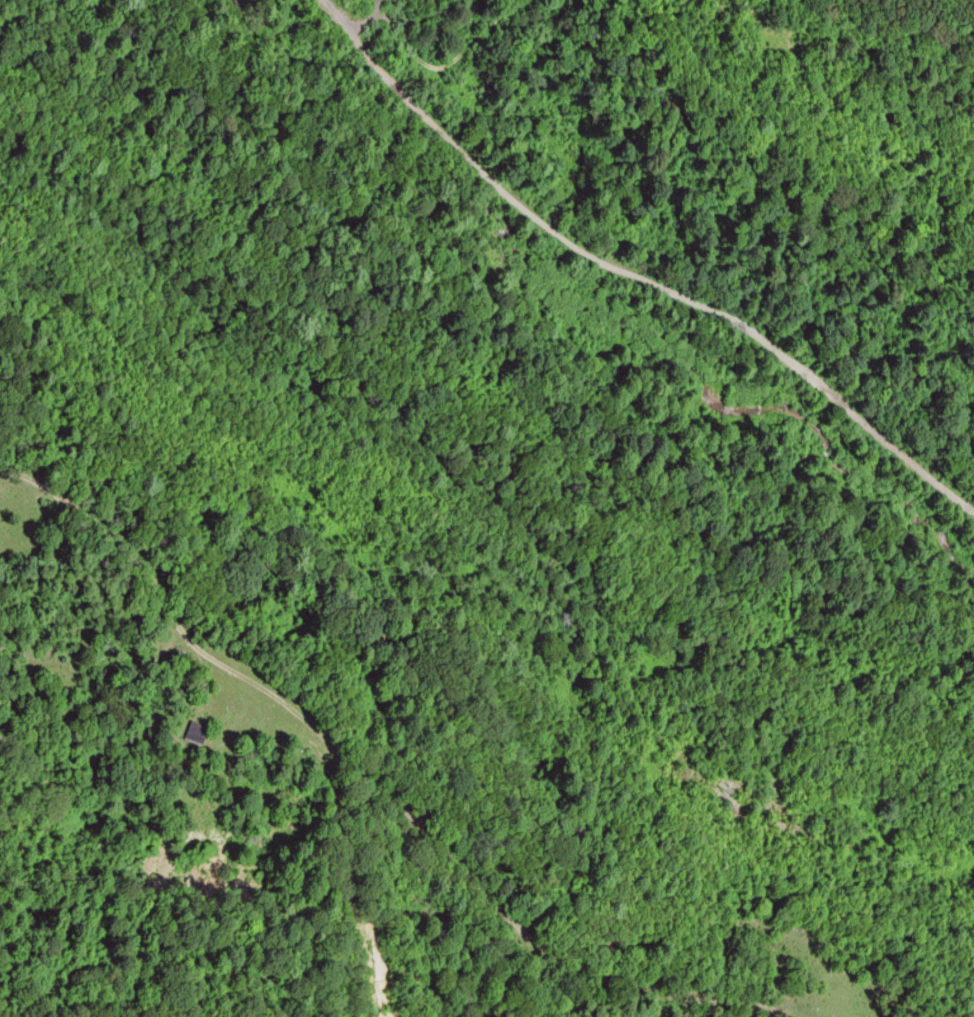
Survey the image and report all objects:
road: (631, 273)

